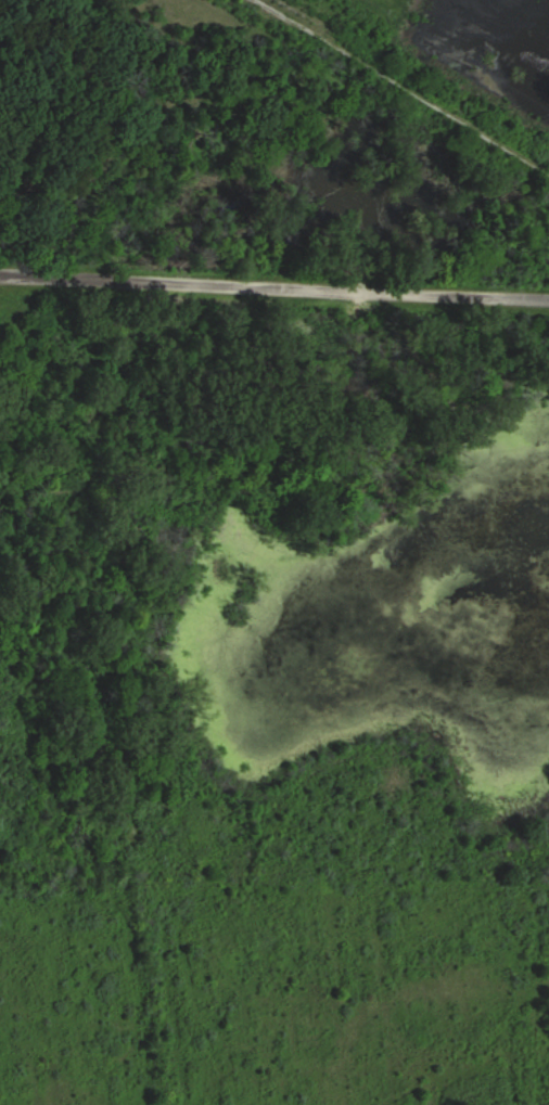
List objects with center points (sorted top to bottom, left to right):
road: (273, 293)

